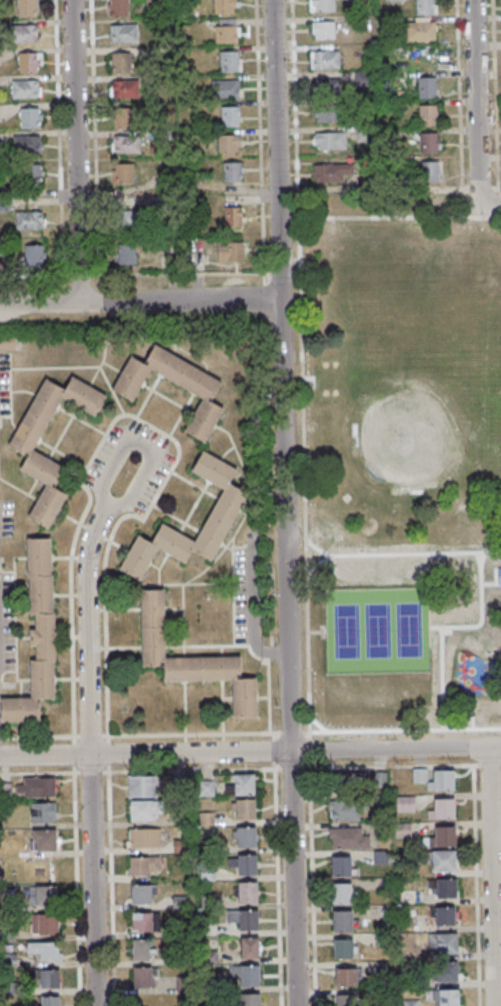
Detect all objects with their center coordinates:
building: (394, 0)
building: (323, 5)
building: (225, 6)
building: (26, 8)
building: (119, 8)
building: (425, 8)
building: (227, 30)
building: (323, 30)
building: (25, 33)
building: (124, 33)
building: (420, 33)
building: (325, 59)
building: (230, 61)
building: (30, 62)
building: (121, 62)
building: (326, 86)
building: (427, 87)
building: (26, 88)
building: (125, 88)
building: (226, 89)
road: (475, 102)
road: (294, 109)
building: (325, 113)
building: (428, 114)
building: (230, 116)
building: (30, 117)
building: (124, 117)
building: (364, 135)
building: (330, 141)
building: (428, 142)
building: (26, 144)
building: (126, 144)
building: (229, 144)
road: (76, 151)
building: (124, 172)
building: (232, 172)
building: (332, 172)
building: (430, 172)
building: (29, 174)
road: (489, 205)
building: (233, 217)
road: (399, 218)
building: (29, 219)
building: (133, 219)
building: (1, 247)
building: (231, 251)
building: (126, 254)
building: (34, 256)
road: (139, 302)
building: (7, 342)
road: (310, 377)
building: (127, 393)
building: (30, 453)
park: (403, 460)
road: (303, 493)
road: (284, 502)
road: (123, 503)
building: (225, 508)
road: (399, 553)
road: (315, 563)
building: (498, 575)
road: (495, 583)
road: (445, 626)
road: (435, 627)
road: (316, 631)
park: (378, 632)
building: (37, 635)
building: (191, 657)
road: (473, 710)
road: (316, 723)
road: (401, 730)
road: (289, 734)
road: (190, 736)
road: (250, 753)
road: (89, 755)
building: (379, 779)
building: (435, 779)
building: (349, 781)
building: (244, 784)
building: (142, 786)
building: (40, 787)
building: (206, 788)
building: (405, 803)
building: (443, 808)
building: (245, 809)
building: (144, 810)
building: (344, 811)
building: (43, 812)
building: (445, 836)
building: (246, 837)
building: (144, 838)
building: (348, 838)
building: (43, 840)
building: (444, 861)
building: (247, 864)
building: (144, 866)
building: (343, 866)
road: (491, 876)
building: (444, 887)
building: (248, 892)
building: (343, 893)
building: (141, 894)
building: (46, 895)
building: (445, 915)
building: (245, 919)
building: (343, 920)
building: (142, 922)
building: (45, 924)
building: (447, 943)
building: (250, 947)
building: (344, 948)
building: (45, 950)
building: (141, 950)
building: (445, 971)
building: (246, 974)
building: (347, 976)
building: (143, 977)
building: (50, 978)
building: (448, 997)
building: (249, 999)
building: (346, 1000)
building: (50, 1001)

